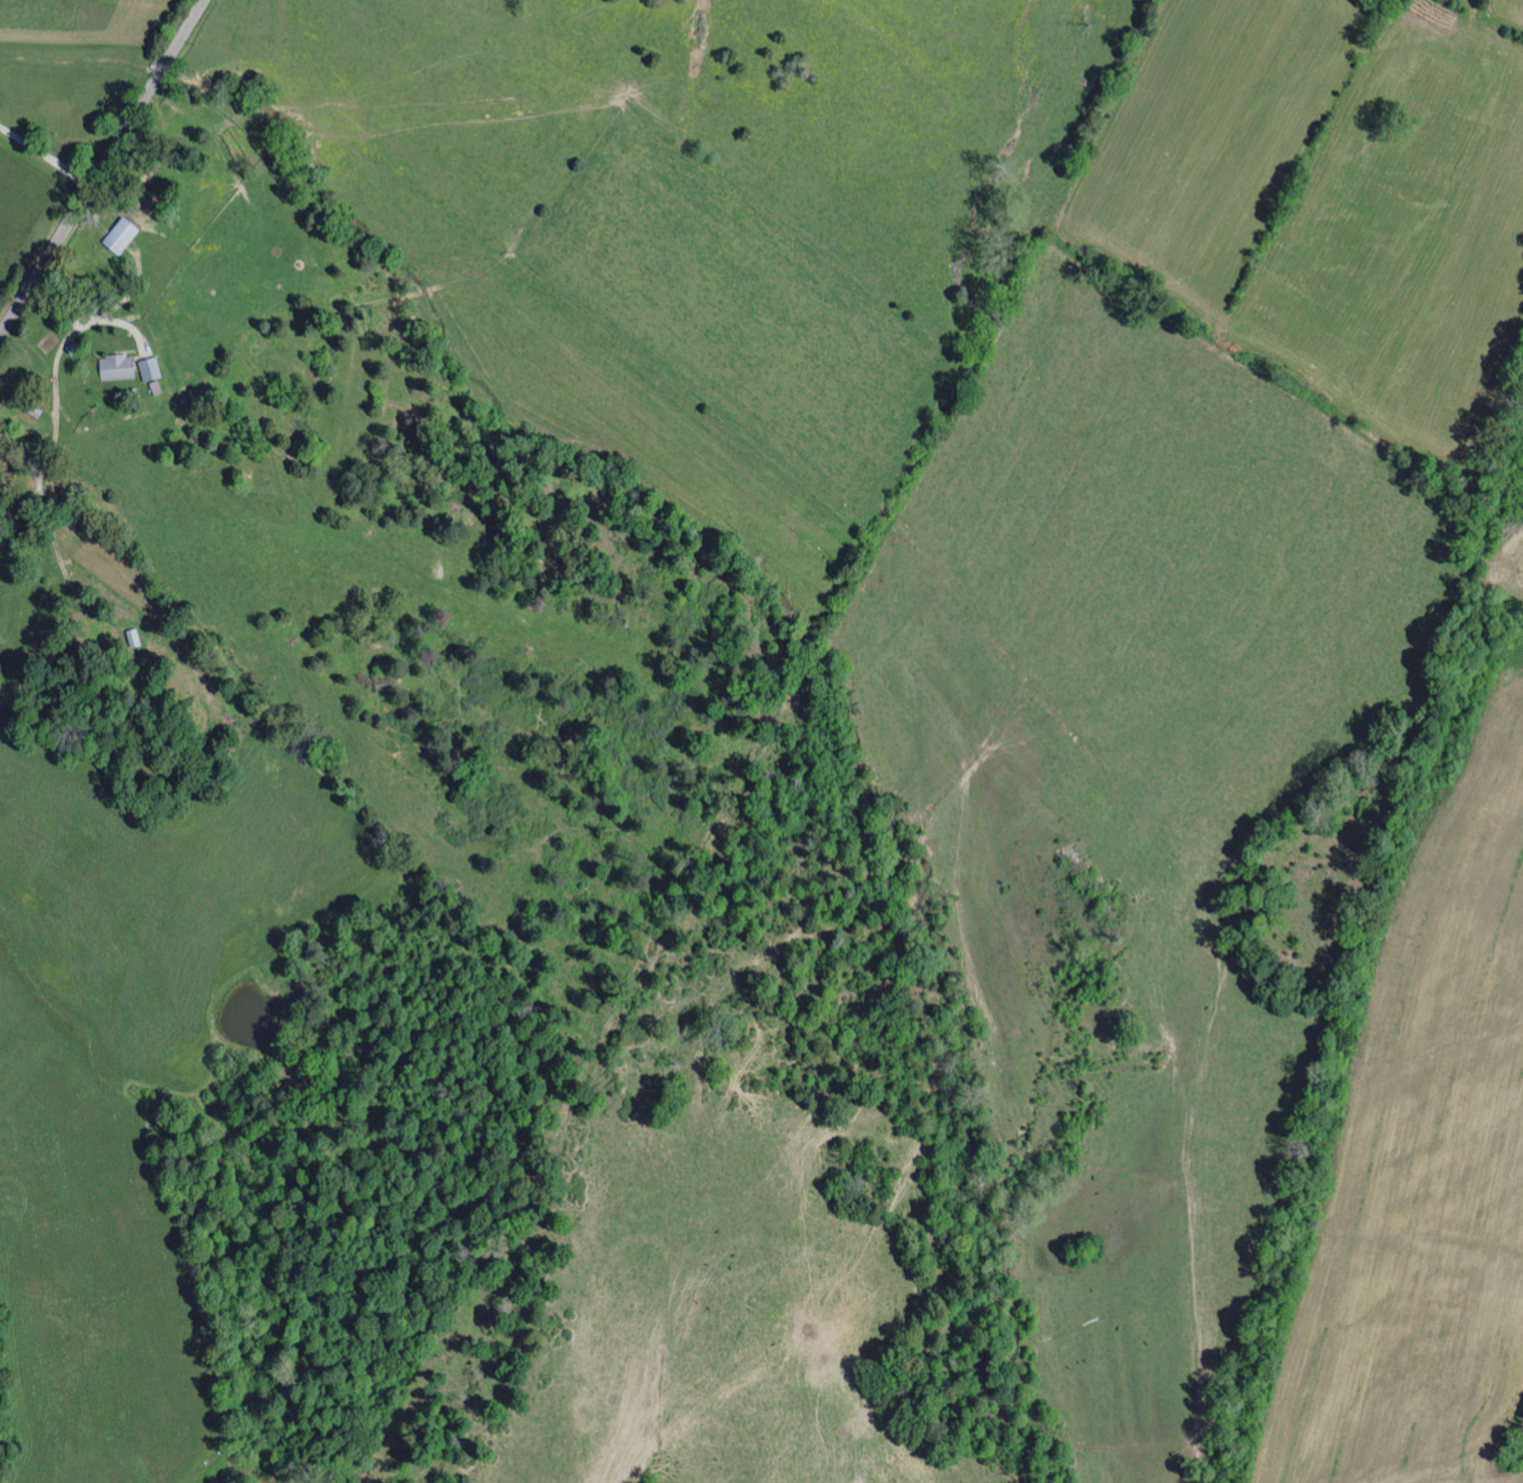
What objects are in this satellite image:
road: (46, 161)
road: (104, 169)
building: (123, 236)
road: (90, 318)
building: (119, 367)
building: (152, 369)
park: (91, 500)

